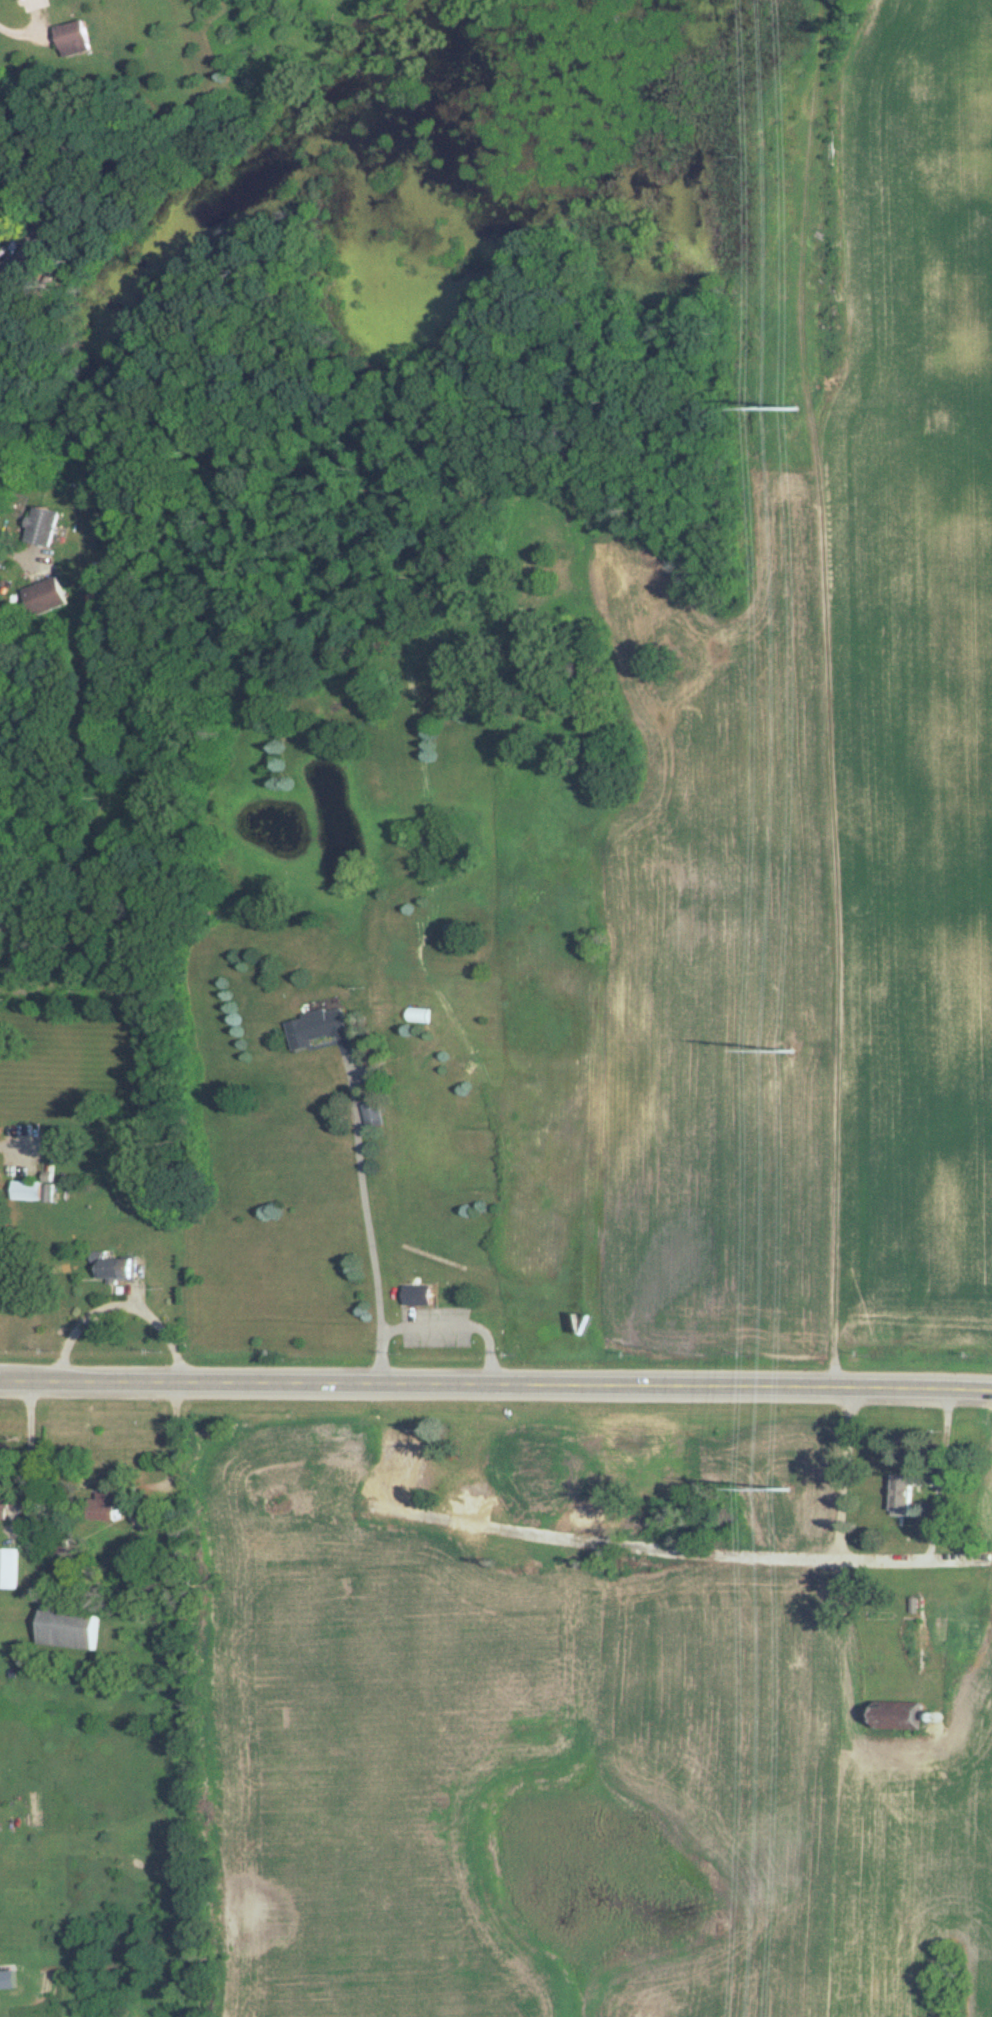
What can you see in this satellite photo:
road: (18, 34)
building: (76, 38)
building: (45, 242)
power tower: (796, 409)
building: (44, 526)
road: (13, 548)
building: (46, 597)
building: (321, 1030)
power tower: (787, 1051)
building: (371, 1119)
building: (32, 1190)
road: (361, 1211)
building: (119, 1268)
building: (419, 1296)
road: (116, 1305)
road: (451, 1324)
road: (496, 1377)
road: (178, 1439)
road: (31, 1456)
power tower: (785, 1488)
building: (907, 1495)
building: (11, 1504)
building: (120, 1507)
road: (884, 1559)
building: (11, 1568)
building: (961, 1635)
building: (904, 1716)

